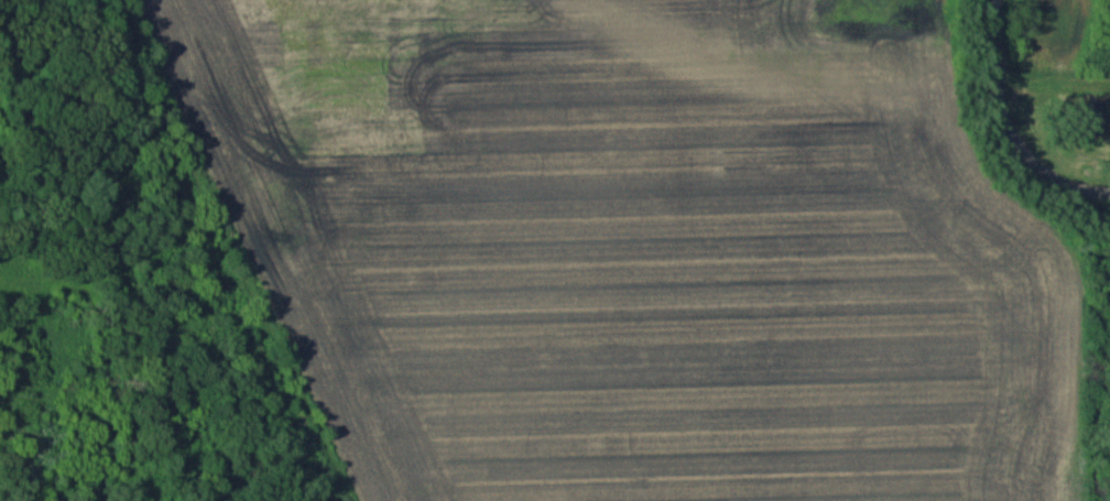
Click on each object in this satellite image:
road: (989, 78)
building: (1089, 118)
road: (1063, 176)

